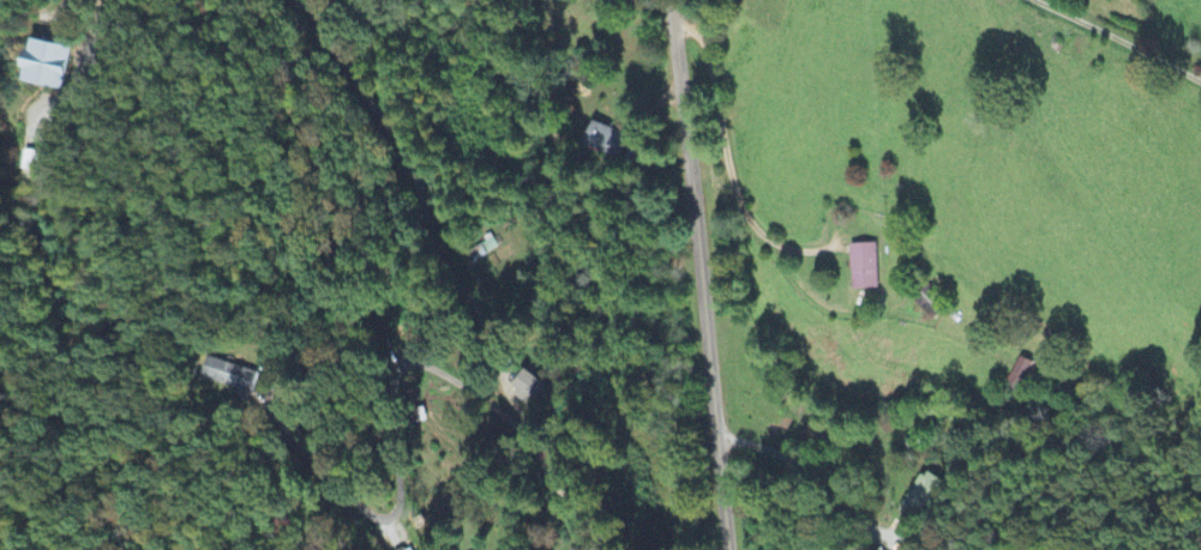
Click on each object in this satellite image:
road: (1118, 41)
building: (44, 67)
building: (606, 141)
building: (31, 163)
building: (863, 267)
road: (451, 272)
road: (699, 274)
building: (1022, 374)
building: (228, 376)
building: (528, 389)
road: (95, 471)
building: (919, 497)
road: (588, 545)
building: (409, 549)

